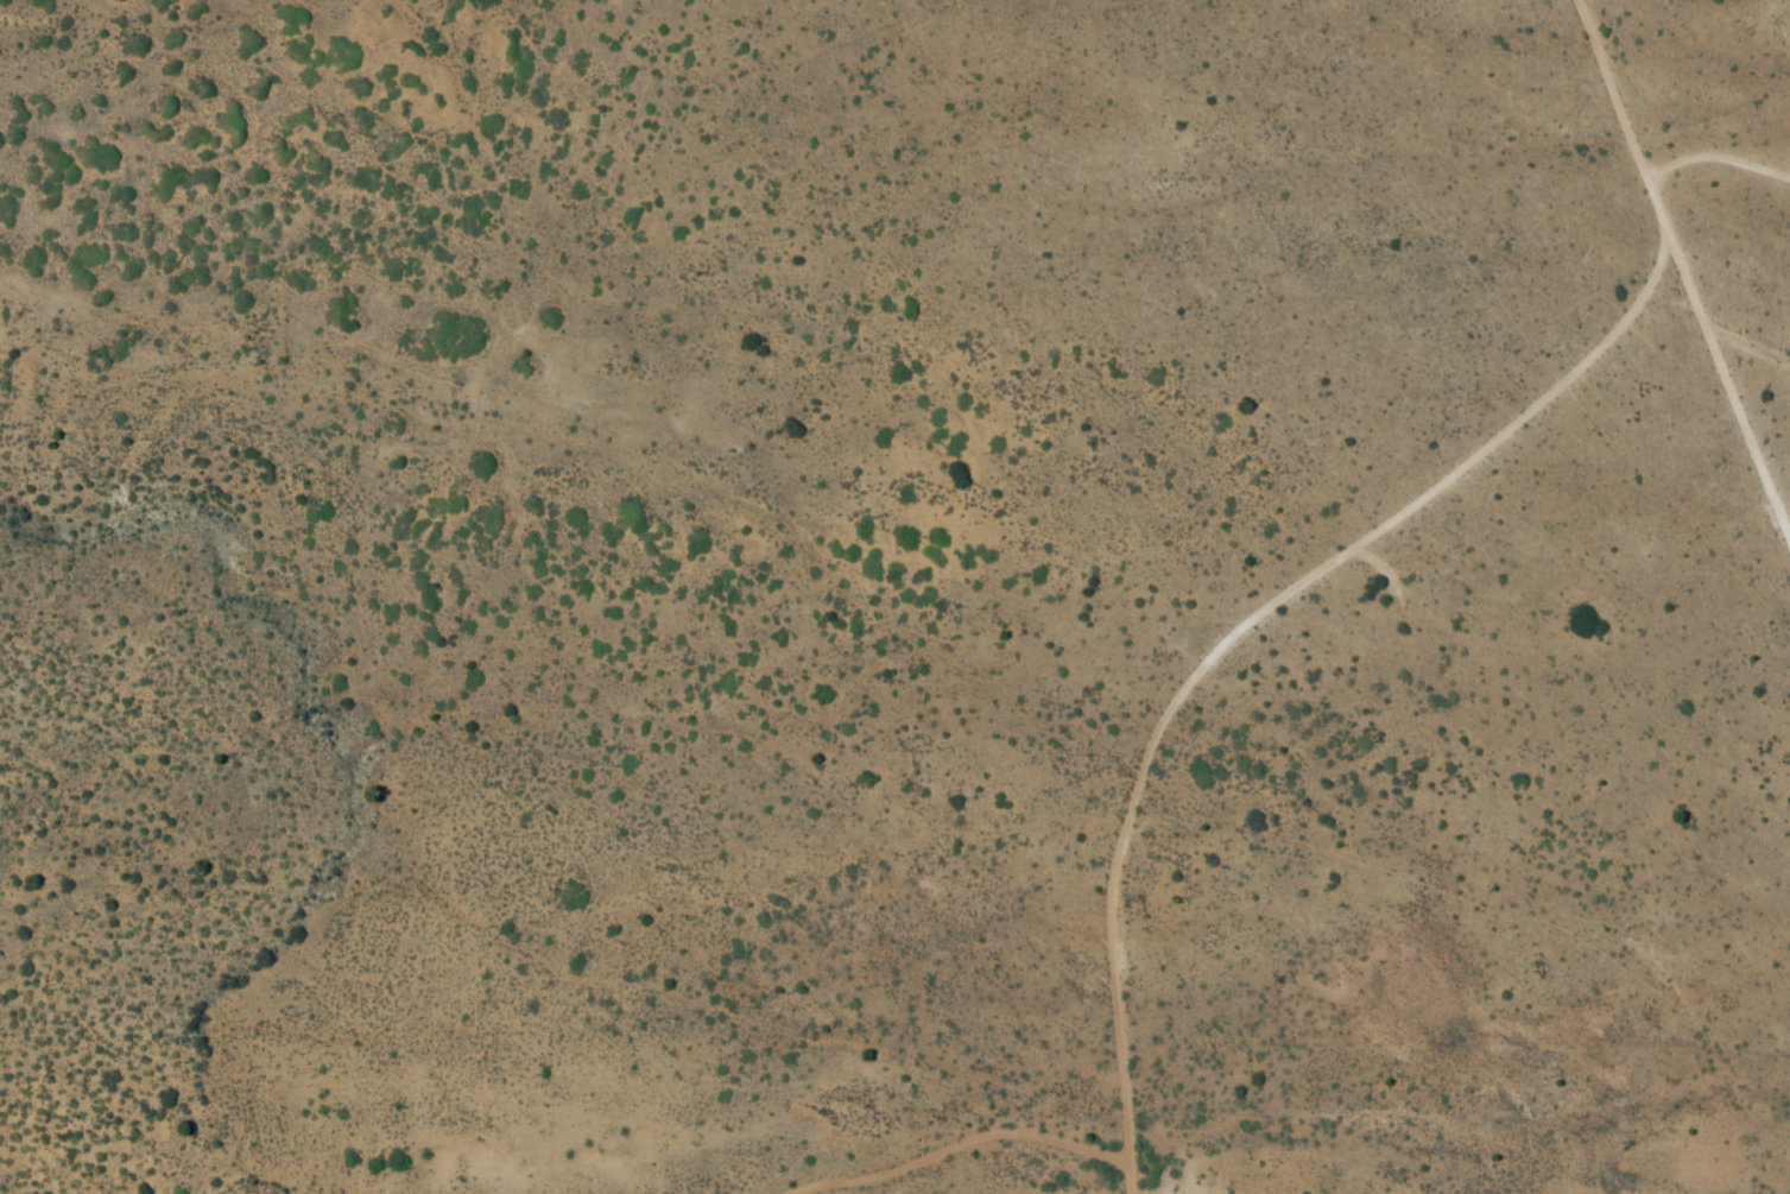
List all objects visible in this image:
road: (1678, 261)
road: (1225, 626)

